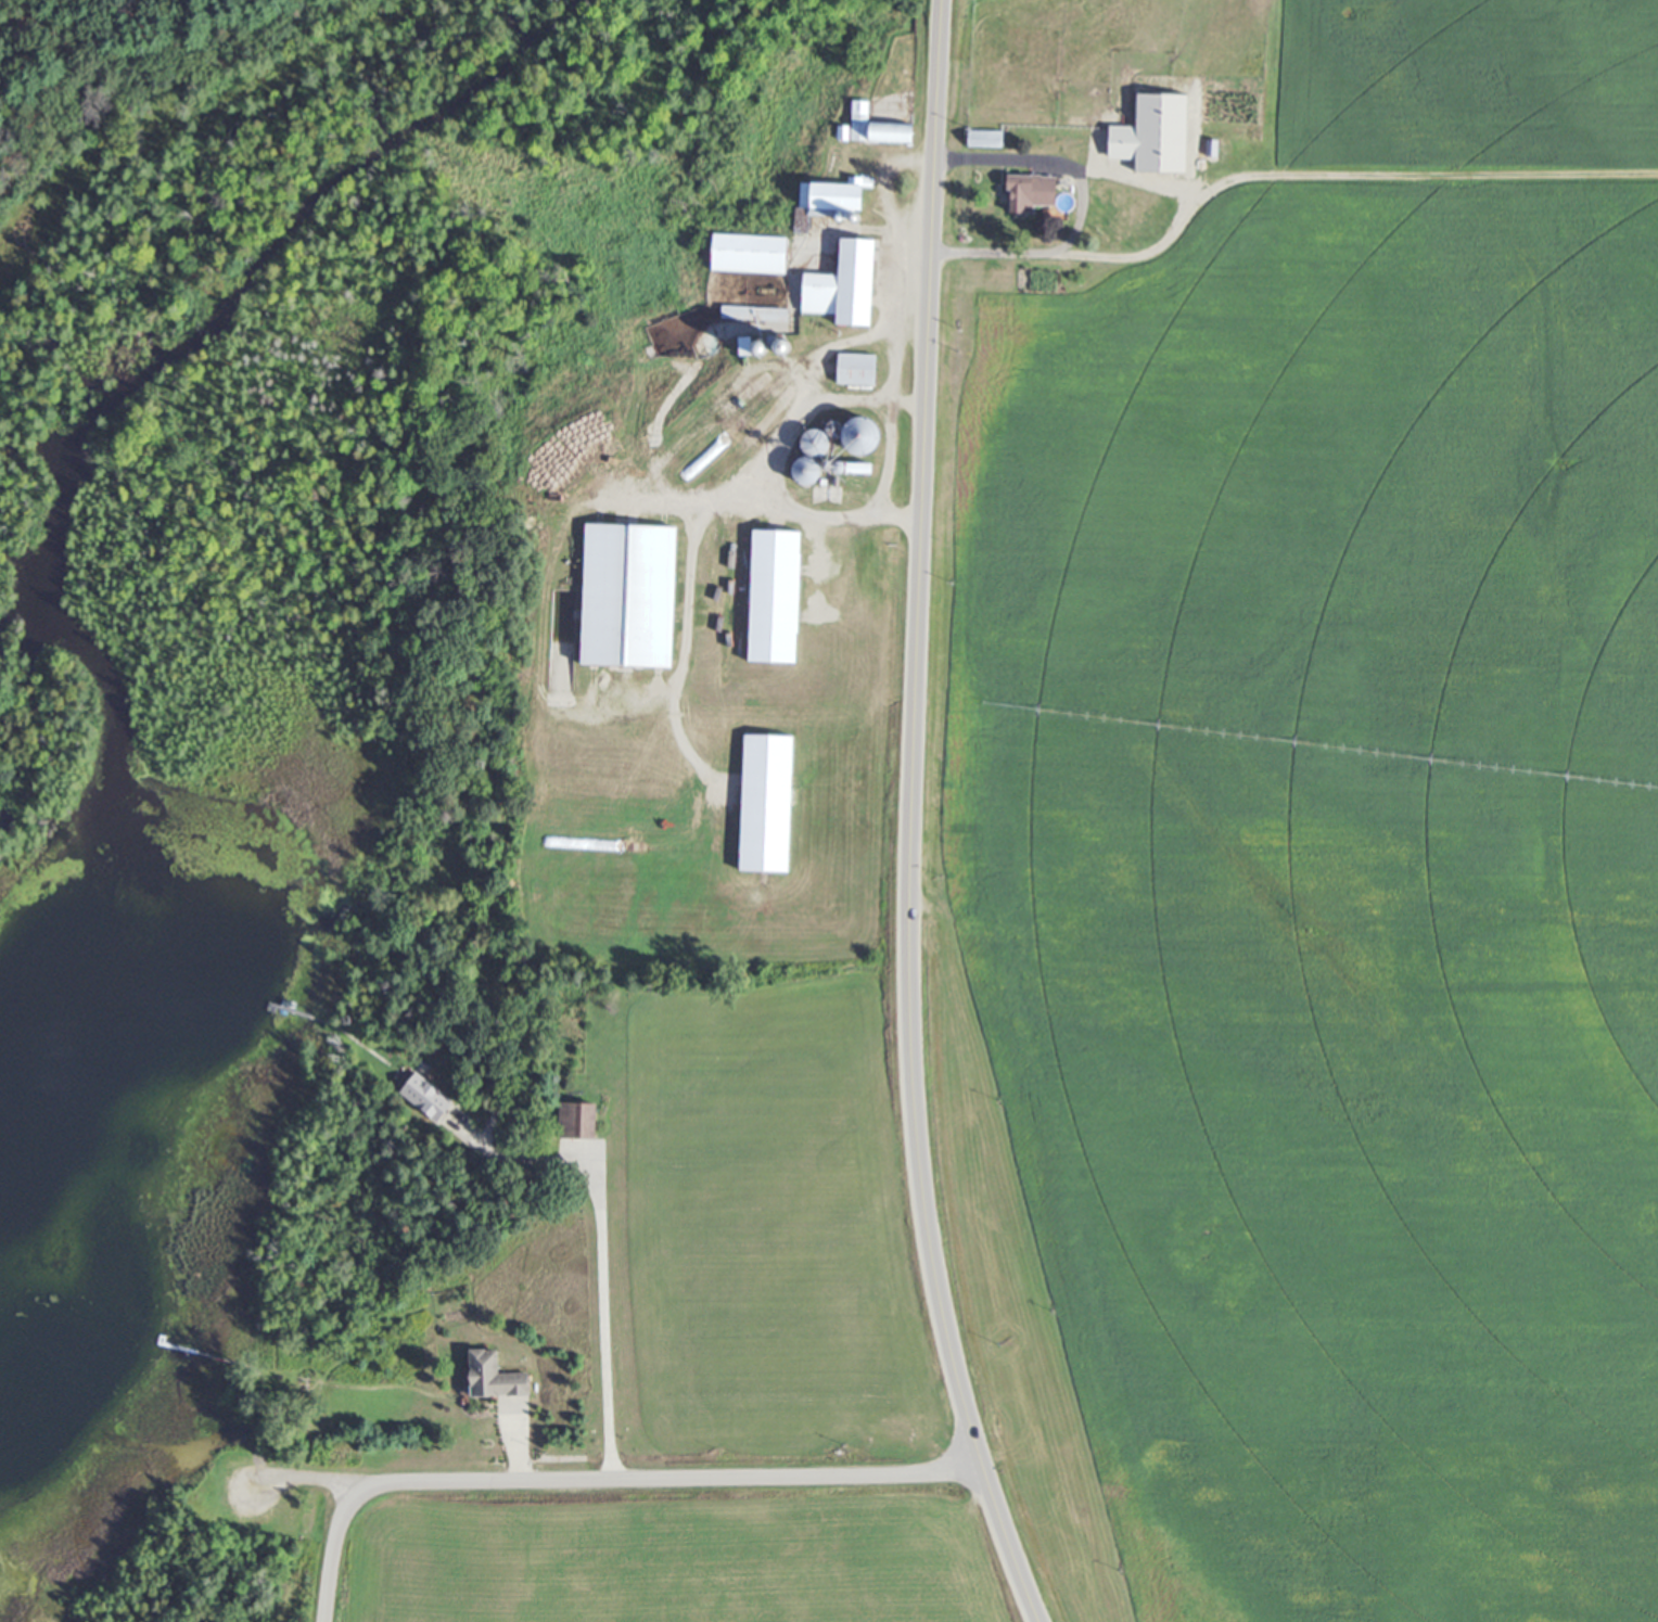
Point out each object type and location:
building: (878, 126)
building: (1166, 132)
building: (992, 136)
building: (1034, 190)
building: (841, 199)
building: (753, 251)
building: (849, 282)
building: (751, 314)
building: (785, 345)
building: (743, 346)
building: (762, 346)
building: (859, 363)
building: (859, 434)
building: (809, 456)
building: (849, 468)
building: (635, 593)
building: (779, 596)
building: (770, 799)
road: (910, 818)
building: (423, 1098)
building: (574, 1121)
road: (594, 1247)
building: (492, 1378)
road: (605, 1483)

